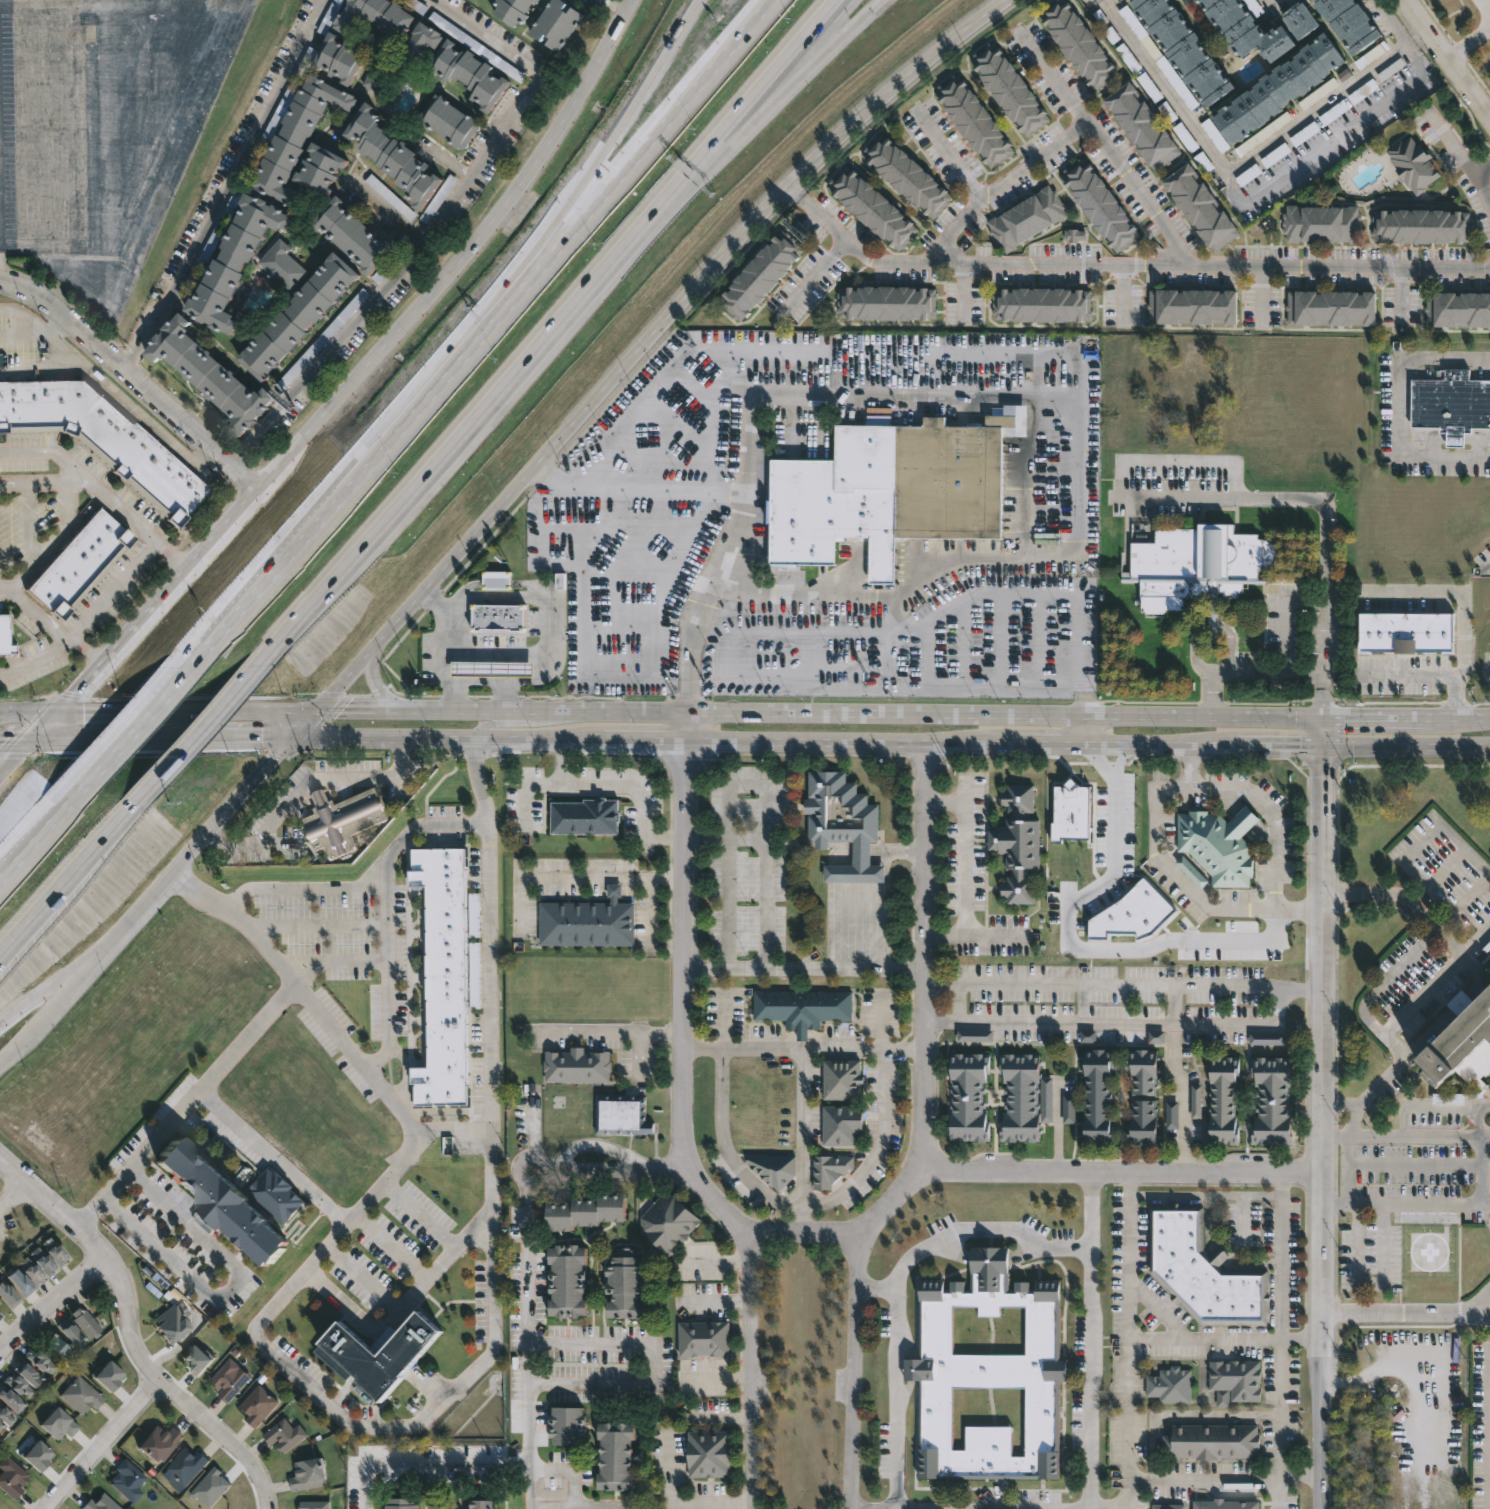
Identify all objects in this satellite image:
building: (534, 0)
road: (96, 3)
road: (618, 6)
road: (1485, 6)
building: (510, 9)
building: (374, 19)
building: (1350, 21)
building: (555, 22)
road: (1389, 22)
building: (1260, 26)
road: (847, 30)
building: (416, 42)
building: (1080, 43)
road: (1467, 43)
building: (1184, 48)
road: (177, 56)
building: (335, 57)
road: (786, 57)
road: (1415, 59)
road: (1445, 60)
building: (466, 74)
building: (373, 76)
building: (1278, 86)
road: (775, 88)
building: (1009, 88)
road: (142, 94)
road: (1315, 109)
building: (975, 119)
building: (446, 120)
building: (1142, 125)
road: (33, 127)
building: (1215, 136)
road: (71, 137)
road: (107, 138)
building: (298, 145)
road: (1106, 148)
road: (249, 149)
building: (389, 155)
road: (948, 155)
road: (443, 156)
road: (1461, 161)
building: (1414, 163)
road: (1479, 166)
building: (906, 175)
road: (1005, 188)
road: (152, 189)
road: (1236, 191)
road: (572, 194)
building: (1101, 205)
building: (872, 206)
building: (1201, 207)
road: (390, 214)
building: (1026, 219)
road: (444, 221)
building: (1322, 223)
building: (1422, 225)
road: (577, 226)
building: (347, 234)
building: (1076, 236)
road: (464, 259)
building: (228, 261)
building: (280, 265)
road: (1125, 267)
building: (759, 274)
road: (818, 277)
road: (966, 292)
road: (1126, 297)
road: (1409, 299)
road: (1263, 301)
building: (886, 303)
building: (1042, 304)
building: (1192, 306)
building: (1331, 307)
building: (1458, 309)
building: (292, 316)
road: (149, 330)
road: (650, 339)
road: (136, 372)
building: (202, 374)
road: (112, 383)
road: (502, 387)
road: (806, 395)
building: (1450, 403)
road: (1396, 408)
road: (405, 413)
building: (878, 420)
building: (104, 436)
road: (240, 454)
road: (34, 482)
road: (639, 489)
road: (102, 490)
building: (891, 490)
road: (1221, 496)
road: (292, 550)
building: (78, 562)
road: (35, 564)
building: (1195, 568)
building: (496, 580)
road: (5, 593)
road: (873, 593)
road: (103, 602)
road: (154, 602)
road: (548, 605)
road: (1286, 614)
road: (1462, 614)
building: (497, 616)
building: (1406, 633)
building: (6, 637)
road: (441, 649)
road: (495, 651)
road: (36, 657)
building: (491, 667)
gas station: (491, 667)
road: (1269, 671)
road: (1407, 676)
road: (488, 681)
road: (174, 687)
road: (242, 691)
road: (384, 691)
traffic signals: (74, 693)
traffic signals: (1323, 696)
traffic signals: (342, 710)
road: (228, 712)
road: (701, 712)
road: (98, 714)
road: (1205, 714)
traffic signals: (84, 715)
road: (28, 716)
traffic signals: (1344, 718)
road: (1379, 718)
road: (1462, 719)
road: (515, 720)
road: (304, 724)
road: (1087, 728)
road: (45, 729)
road: (1323, 731)
road: (235, 739)
traffic signals: (262, 739)
road: (449, 740)
road: (107, 741)
road: (649, 741)
traffic signals: (4, 742)
road: (17, 742)
road: (845, 742)
road: (1043, 743)
road: (1164, 744)
road: (1282, 745)
traffic signals: (1300, 746)
road: (1406, 746)
road: (112, 755)
traffic signals: (273, 759)
road: (180, 761)
road: (17, 762)
traffic signals: (1323, 767)
road: (1193, 768)
road: (746, 783)
road: (540, 784)
road: (304, 793)
road: (641, 797)
road: (230, 804)
road: (1159, 808)
building: (1071, 813)
building: (585, 815)
building: (341, 819)
building: (818, 820)
road: (41, 834)
road: (728, 840)
building: (1021, 842)
building: (1218, 843)
road: (905, 851)
road: (1468, 851)
road: (964, 870)
building: (1192, 871)
road: (576, 876)
road: (73, 881)
road: (364, 883)
road: (387, 892)
road: (884, 909)
building: (1134, 914)
building: (475, 915)
building: (588, 921)
parking lot: (1482, 925)
road: (650, 929)
road: (388, 931)
road: (994, 935)
road: (689, 942)
road: (1076, 946)
road: (96, 951)
road: (927, 959)
road: (334, 961)
road: (808, 968)
building: (444, 974)
building: (475, 975)
road: (1386, 981)
road: (52, 984)
road: (1106, 985)
road: (1468, 990)
road: (303, 999)
building: (803, 1008)
road: (882, 1021)
road: (1134, 1022)
road: (620, 1032)
building: (975, 1036)
building: (1088, 1036)
building: (1156, 1037)
building: (1270, 1038)
building: (1462, 1045)
road: (11, 1046)
road: (808, 1047)
road: (637, 1054)
building: (578, 1065)
building: (1146, 1071)
road: (406, 1076)
building: (843, 1080)
road: (1180, 1080)
building: (972, 1096)
building: (1101, 1096)
building: (1027, 1097)
building: (1227, 1100)
building: (1275, 1100)
building: (1197, 1102)
road: (1340, 1104)
road: (179, 1107)
road: (1433, 1107)
building: (1071, 1109)
building: (623, 1114)
building: (1172, 1115)
building: (1145, 1122)
building: (843, 1124)
road: (1059, 1126)
road: (1325, 1127)
road: (491, 1128)
road: (451, 1134)
road: (1336, 1137)
road: (1347, 1137)
road: (1486, 1137)
road: (876, 1149)
road: (270, 1157)
road: (1414, 1164)
building: (773, 1169)
building: (830, 1170)
road: (517, 1174)
road: (910, 1182)
parking lot: (1416, 1187)
road: (1203, 1196)
road: (10, 1198)
building: (234, 1198)
road: (776, 1202)
road: (1336, 1203)
road: (1484, 1204)
building: (588, 1211)
road: (419, 1214)
building: (668, 1224)
road: (64, 1228)
road: (989, 1234)
road: (390, 1246)
helipad: (1428, 1251)
building: (54, 1252)
building: (43, 1262)
building: (1203, 1270)
building: (31, 1272)
road: (364, 1277)
building: (570, 1281)
building: (19, 1282)
building: (628, 1285)
road: (232, 1286)
road: (1369, 1286)
road: (283, 1294)
building: (8, 1296)
road: (717, 1301)
road: (405, 1304)
road: (1480, 1305)
road: (46, 1313)
road: (1406, 1314)
building: (0, 1317)
building: (85, 1324)
building: (172, 1324)
road: (529, 1325)
building: (71, 1335)
road: (1225, 1337)
building: (705, 1339)
road: (1098, 1340)
road: (1128, 1341)
road: (1279, 1341)
building: (59, 1348)
building: (378, 1351)
building: (198, 1360)
building: (40, 1362)
road: (654, 1363)
road: (756, 1368)
road: (859, 1369)
building: (989, 1374)
building: (27, 1375)
road: (720, 1375)
building: (108, 1377)
building: (229, 1380)
road: (899, 1380)
building: (1235, 1381)
building: (1170, 1385)
building: (18, 1387)
building: (82, 1396)
building: (11, 1401)
road: (199, 1401)
building: (0, 1404)
building: (260, 1405)
road: (725, 1416)
building: (5, 1417)
building: (58, 1425)
parking lot: (1481, 1425)
building: (0, 1426)
building: (571, 1426)
building: (286, 1436)
road: (97, 1438)
building: (1214, 1442)
building: (160, 1444)
building: (711, 1454)
building: (37, 1456)
building: (619, 1457)
road: (451, 1467)
building: (181, 1468)
road: (1300, 1474)
building: (310, 1475)
road: (1203, 1475)
building: (12, 1478)
building: (128, 1482)
building: (211, 1488)
road: (531, 1488)
road: (574, 1488)
road: (367, 1489)
road: (680, 1499)
building: (402, 1503)
building: (482, 1503)
building: (100, 1504)
building: (1227, 1504)
building: (316, 1505)
road: (599, 1505)
building: (1168, 1506)
road: (1112, 1507)

